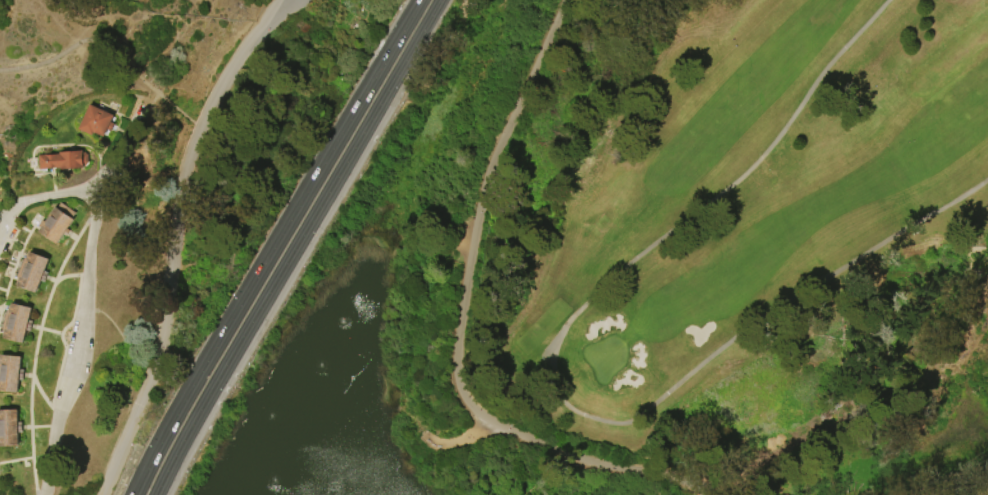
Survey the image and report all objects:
park: (142, 1)
road: (277, 17)
road: (61, 53)
road: (150, 100)
building: (97, 122)
building: (64, 162)
road: (54, 196)
road: (8, 204)
park: (744, 206)
road: (8, 219)
building: (59, 224)
road: (2, 225)
road: (19, 227)
road: (172, 240)
road: (273, 245)
road: (294, 246)
park: (494, 247)
road: (7, 263)
road: (15, 263)
building: (35, 273)
road: (78, 289)
road: (85, 295)
road: (458, 321)
building: (20, 323)
road: (36, 345)
park: (605, 356)
road: (62, 358)
building: (12, 374)
road: (556, 386)
road: (44, 396)
road: (410, 417)
building: (10, 429)
road: (456, 437)
road: (16, 461)

